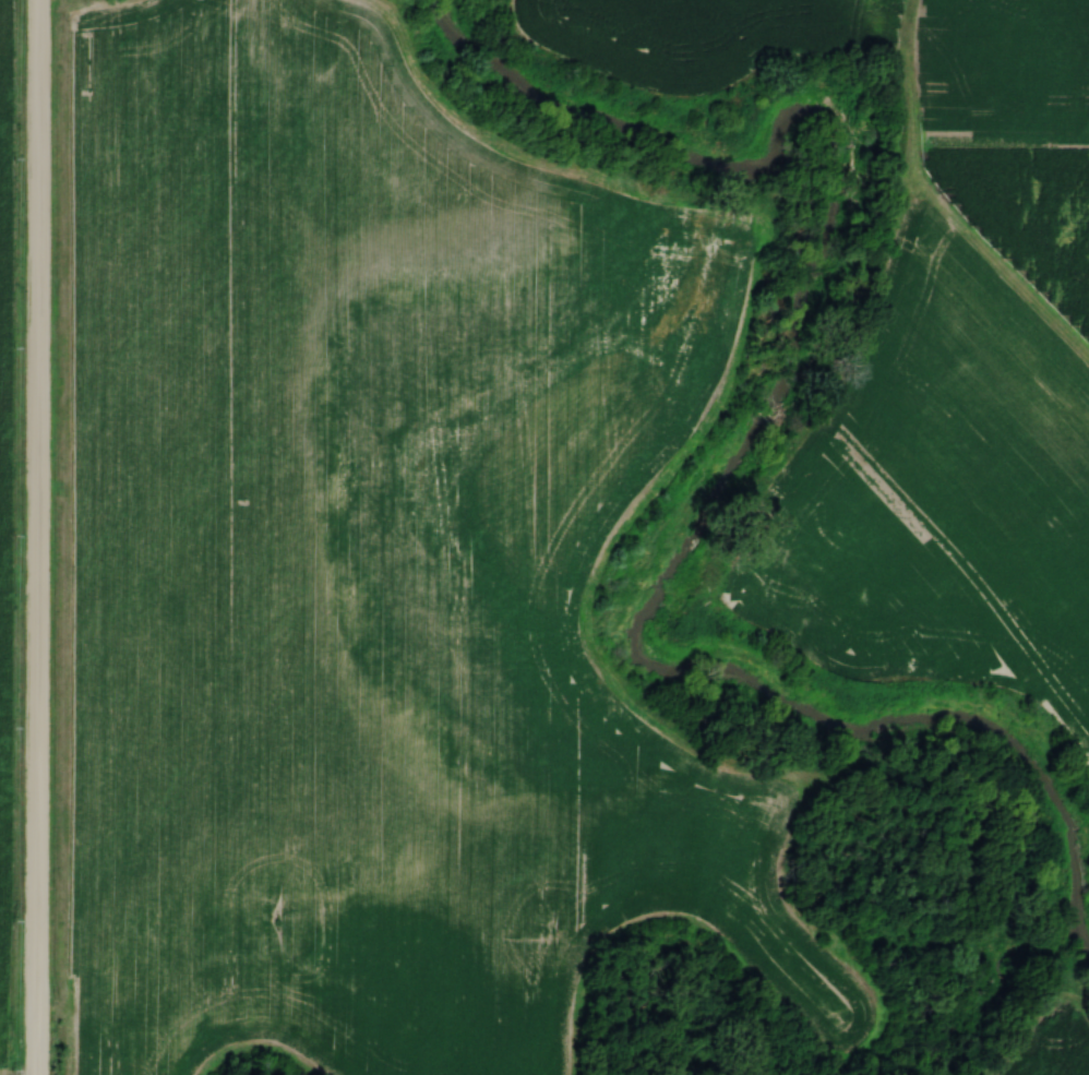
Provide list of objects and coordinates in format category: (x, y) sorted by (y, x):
river: (708, 494)
road: (40, 537)

